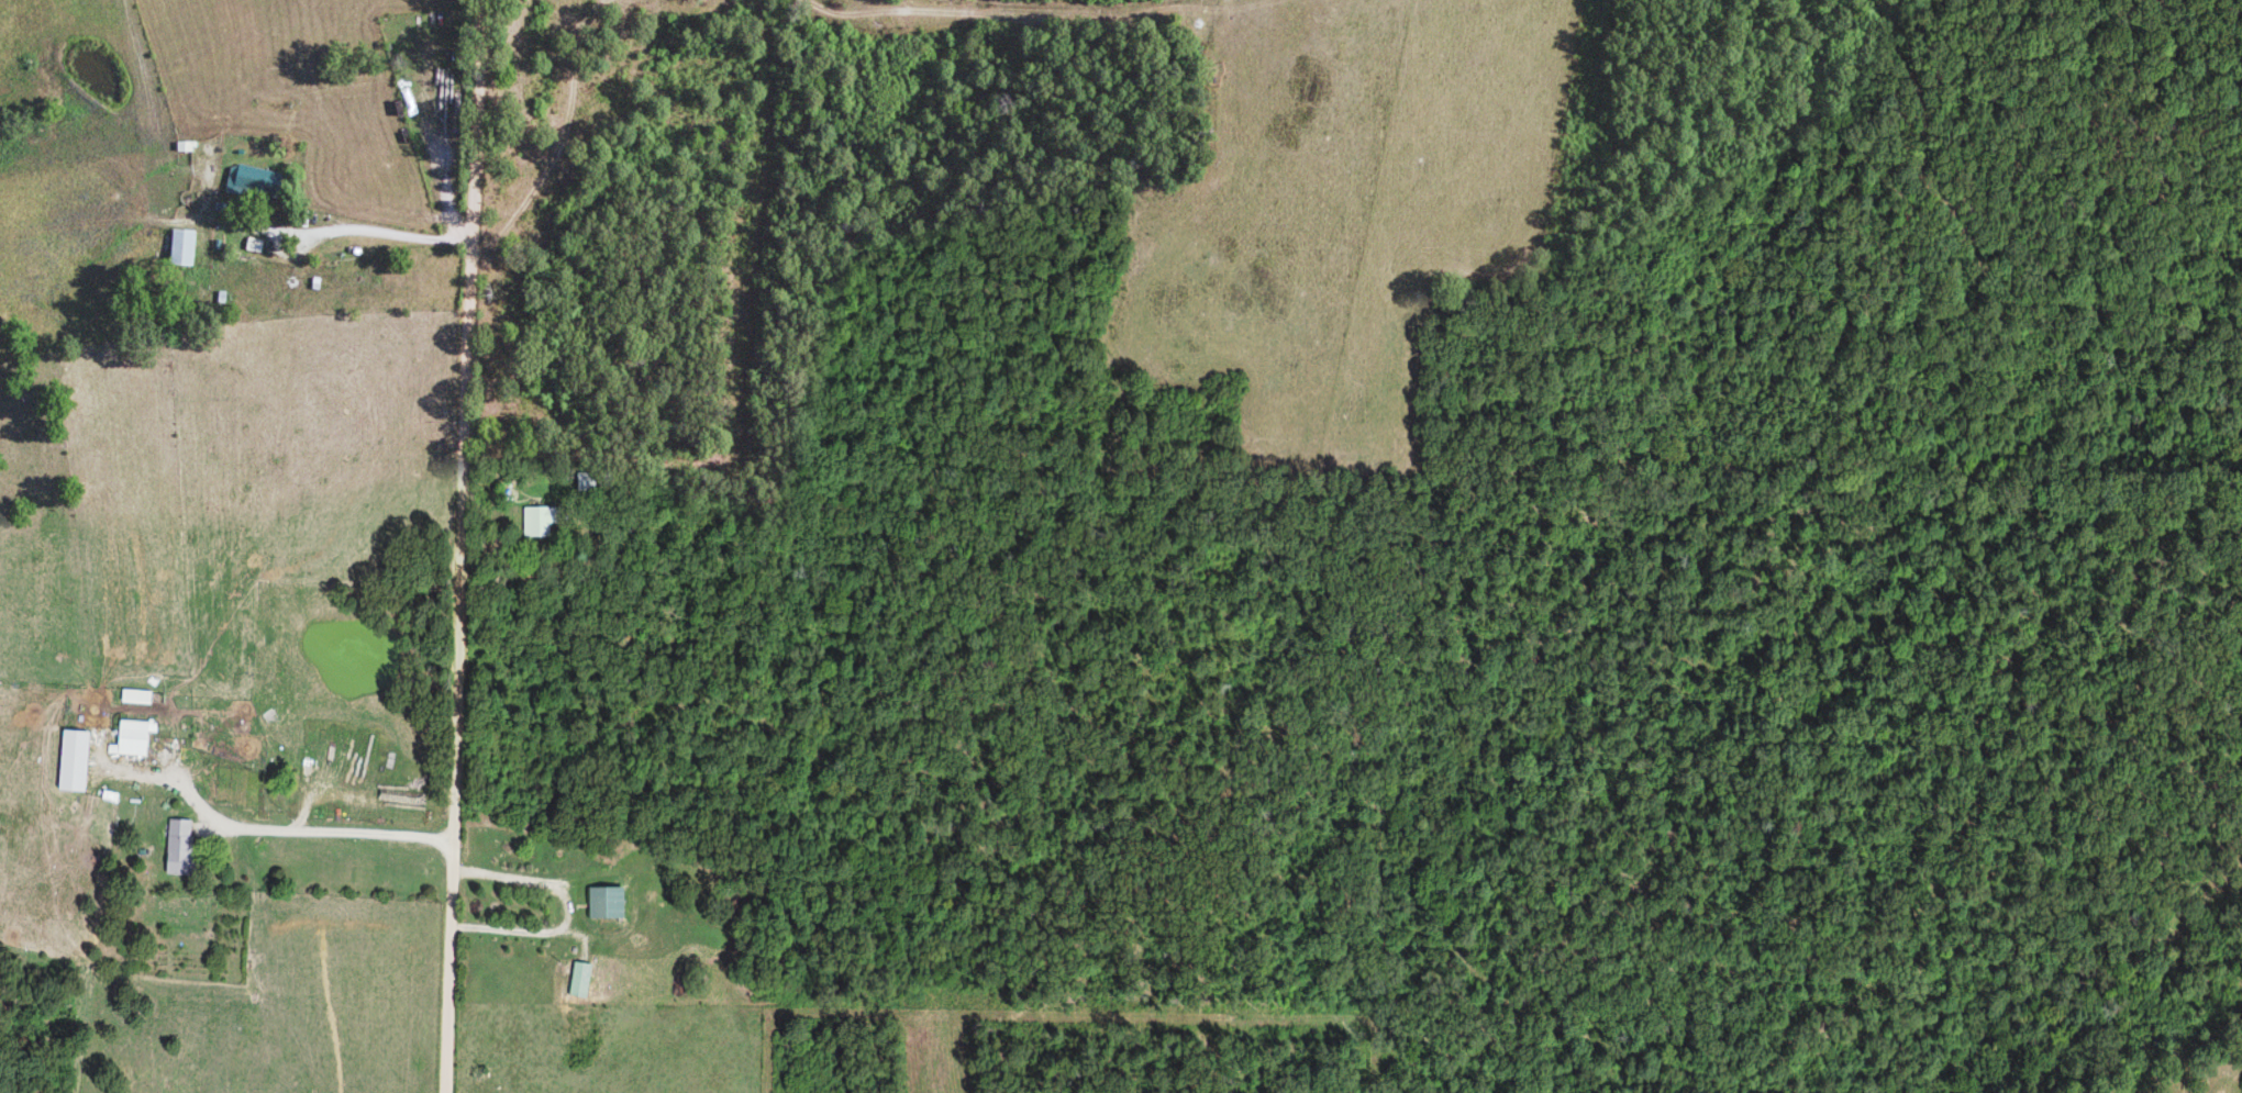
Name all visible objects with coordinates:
building: (252, 179)
road: (335, 225)
building: (254, 245)
building: (181, 246)
building: (535, 521)
road: (457, 546)
building: (134, 696)
building: (131, 738)
building: (70, 760)
road: (328, 833)
building: (176, 847)
building: (602, 903)
road: (557, 907)
building: (577, 980)

